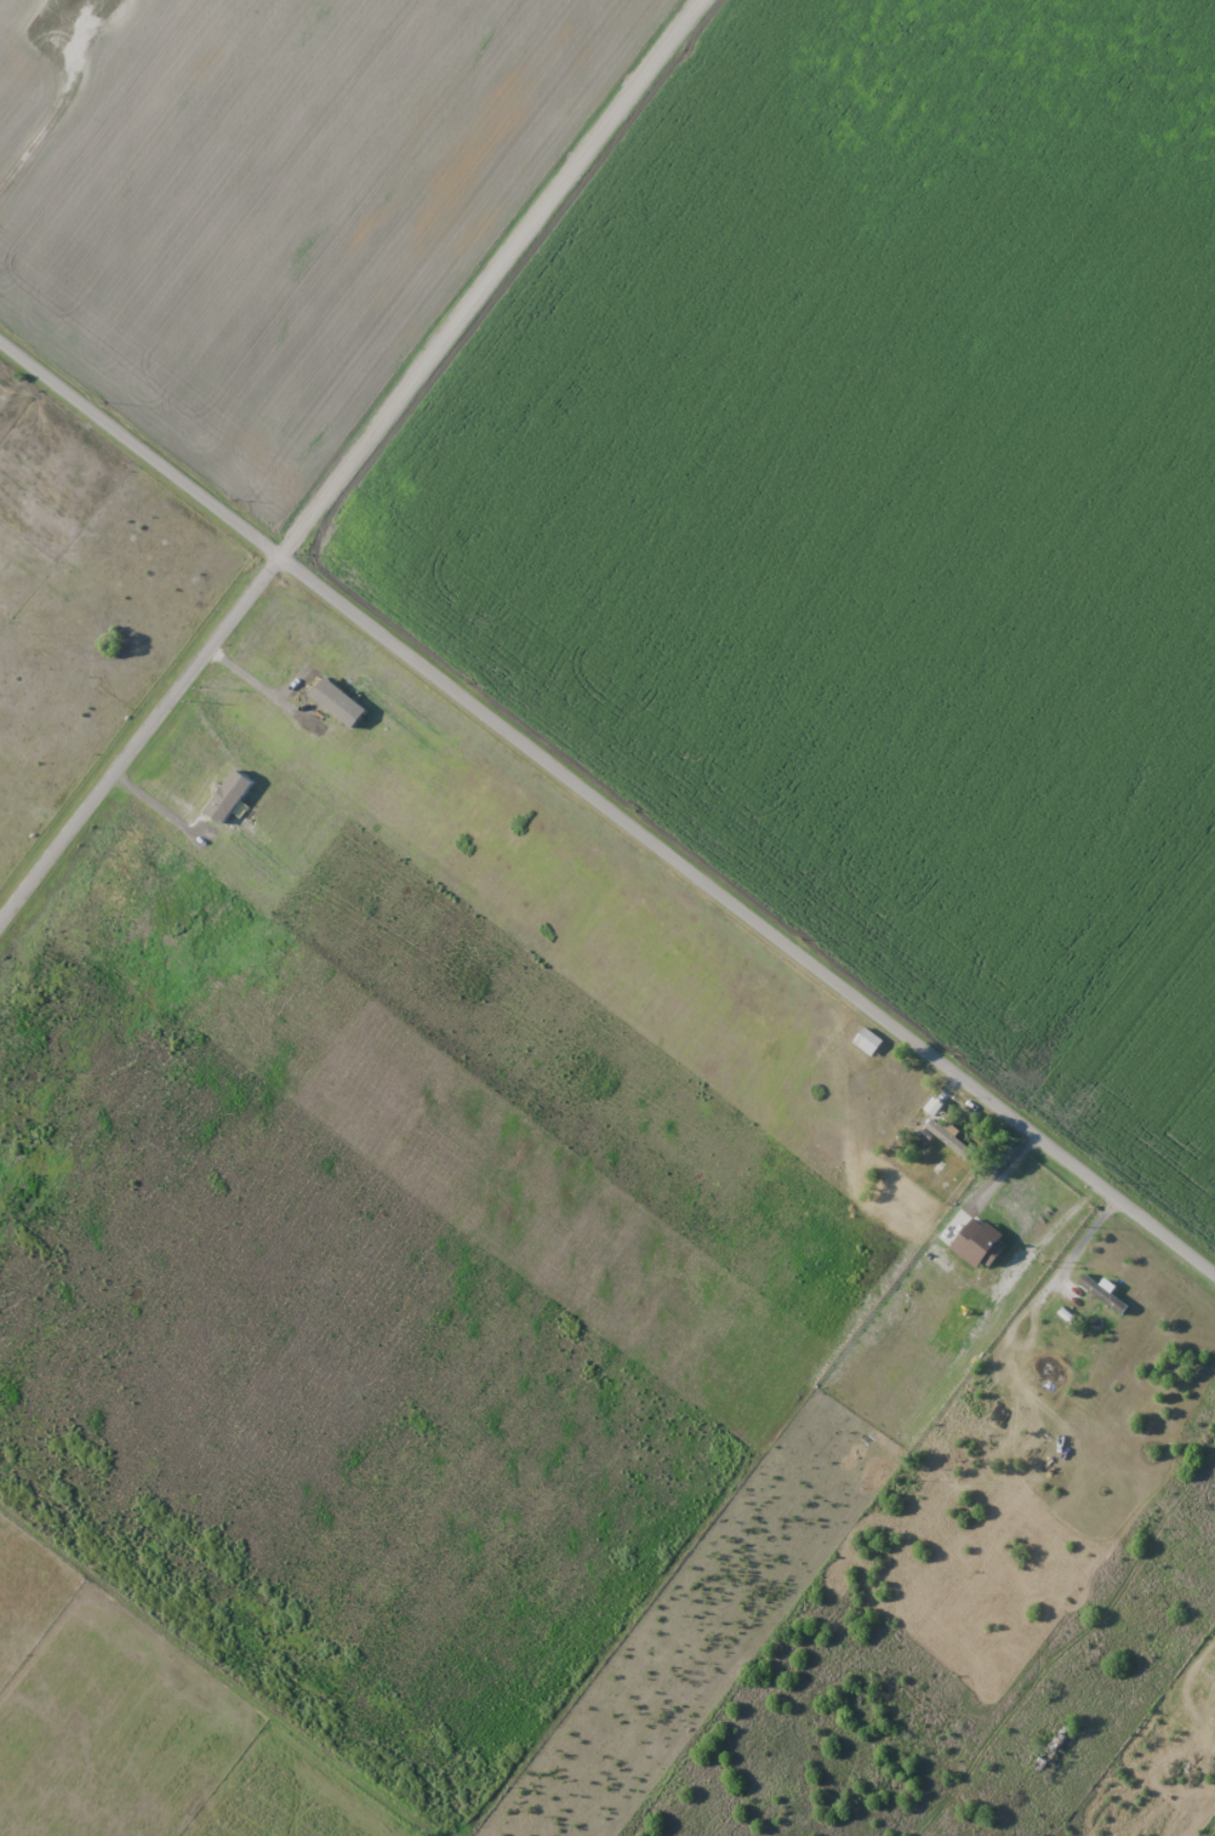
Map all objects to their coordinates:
road: (361, 471)
road: (606, 816)
building: (867, 1040)
building: (1103, 1294)
building: (1059, 1737)

